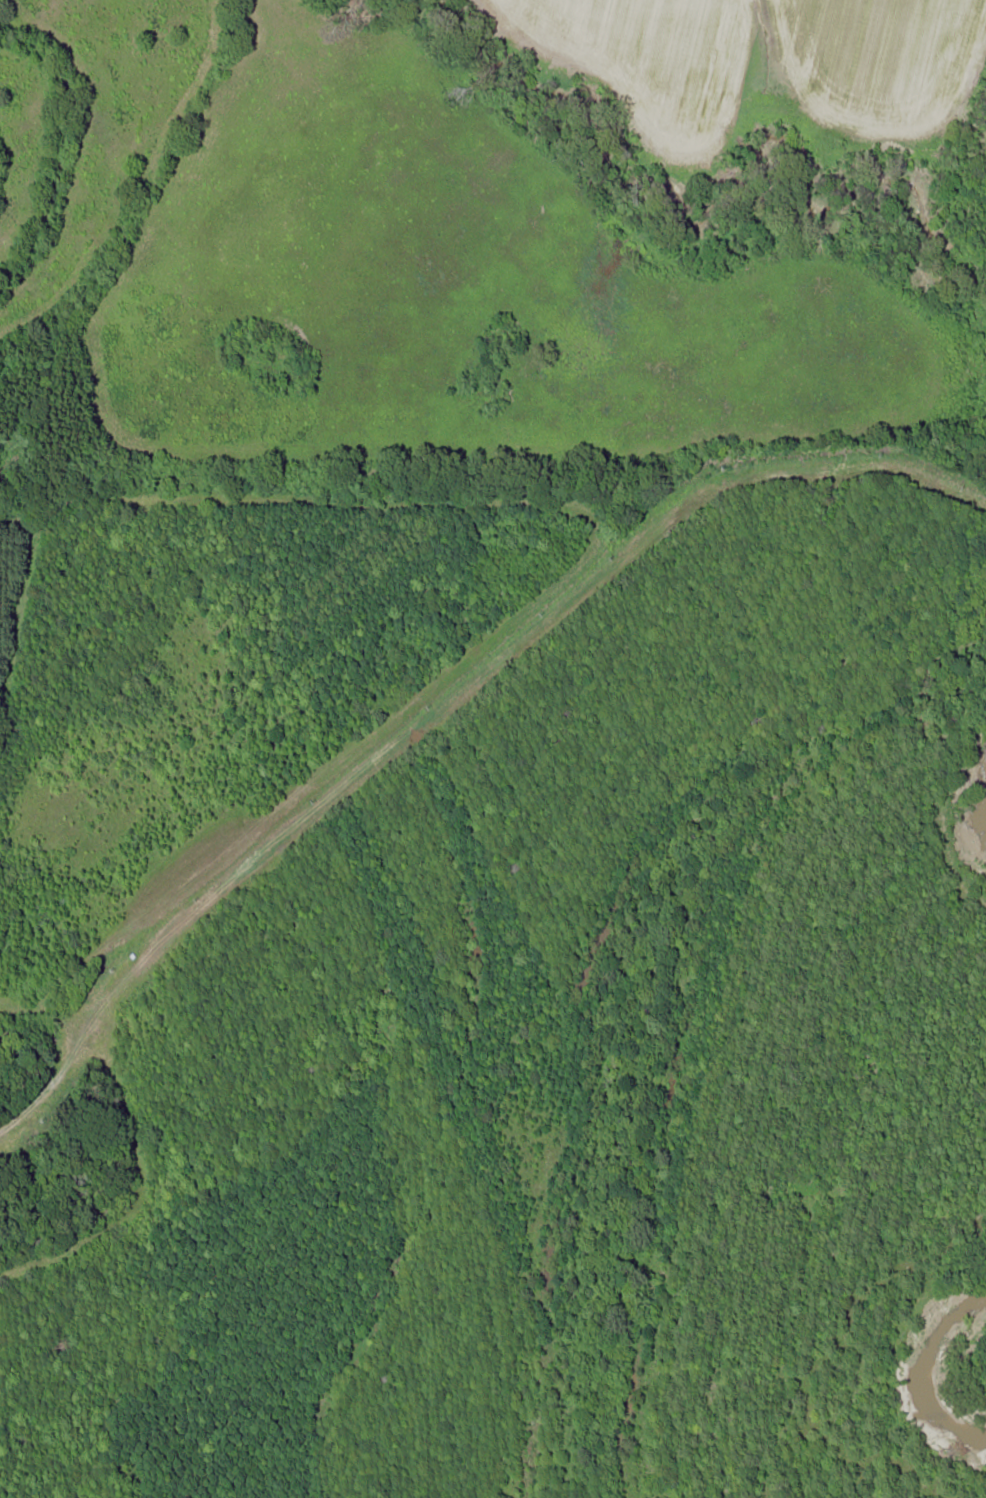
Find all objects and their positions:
river: (931, 1359)

